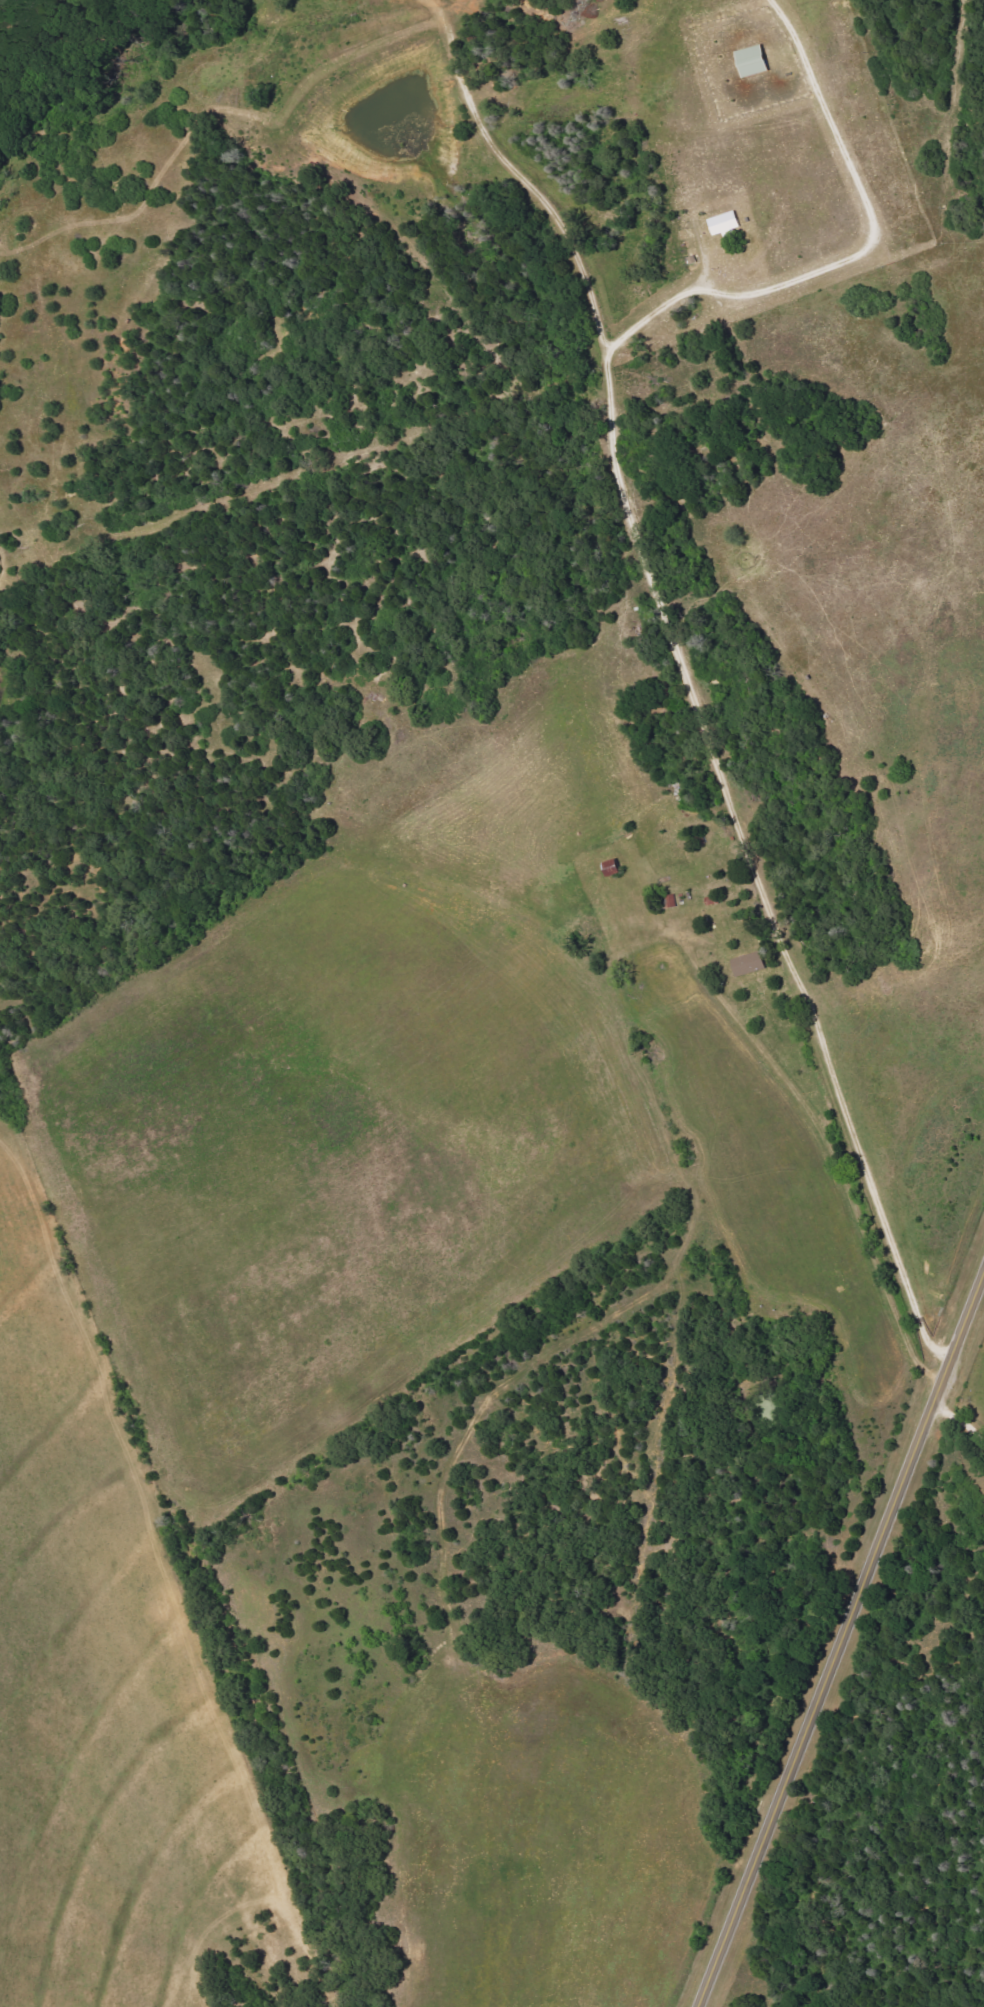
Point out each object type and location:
building: (726, 224)
road: (720, 777)
building: (614, 867)
building: (750, 963)
road: (827, 1139)
road: (958, 1425)
road: (839, 1637)

